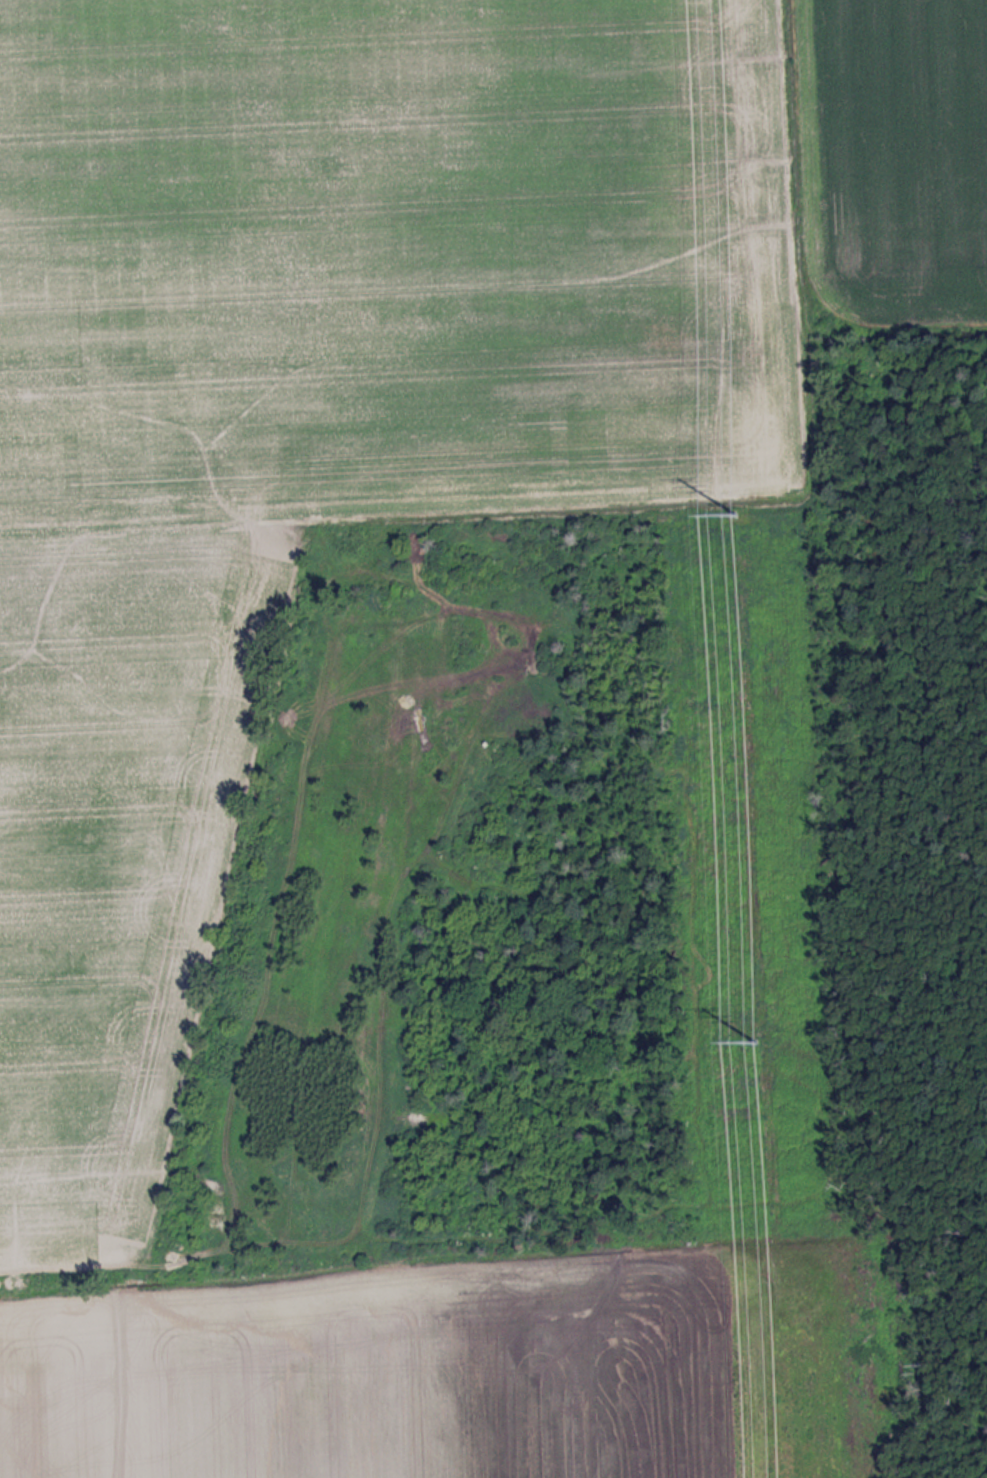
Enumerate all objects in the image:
power tower: (730, 508)
power tower: (754, 1040)

